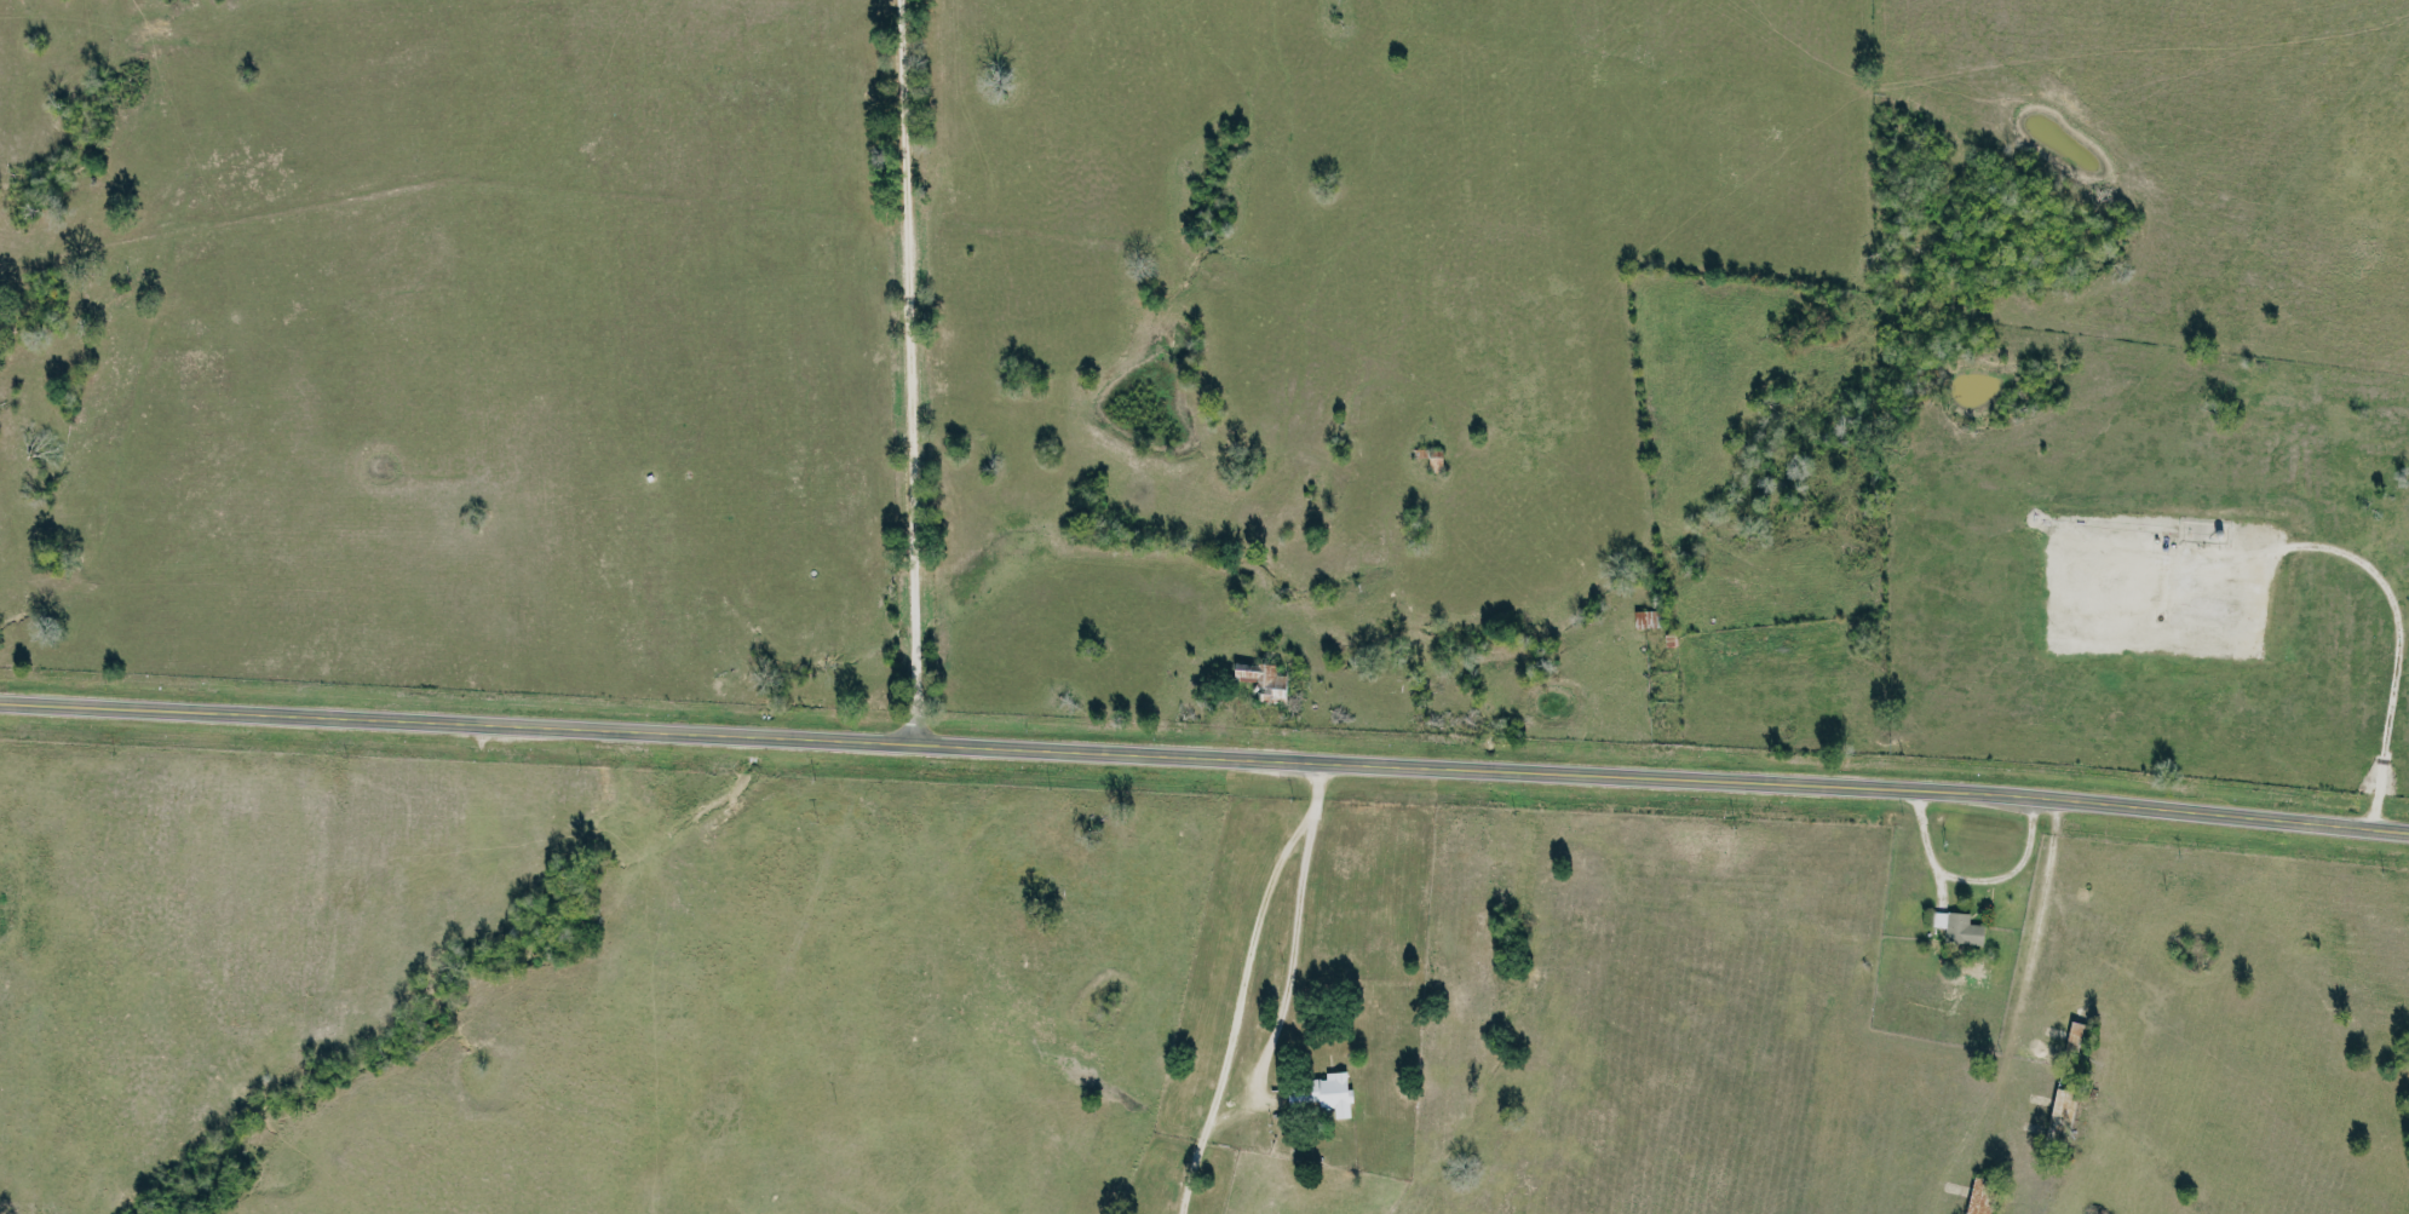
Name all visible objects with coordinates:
road: (903, 373)
building: (1269, 681)
road: (1204, 756)
road: (1971, 876)
building: (1956, 927)
road: (1241, 983)
road: (1286, 984)
building: (1330, 1094)
building: (1965, 1213)

